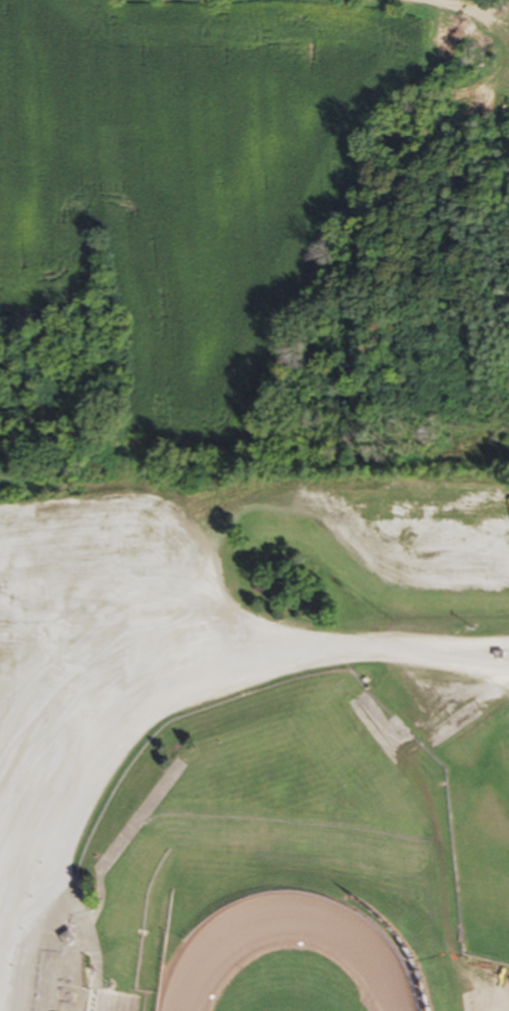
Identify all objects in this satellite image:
road: (154, 683)
road: (435, 831)
raceway: (288, 920)

